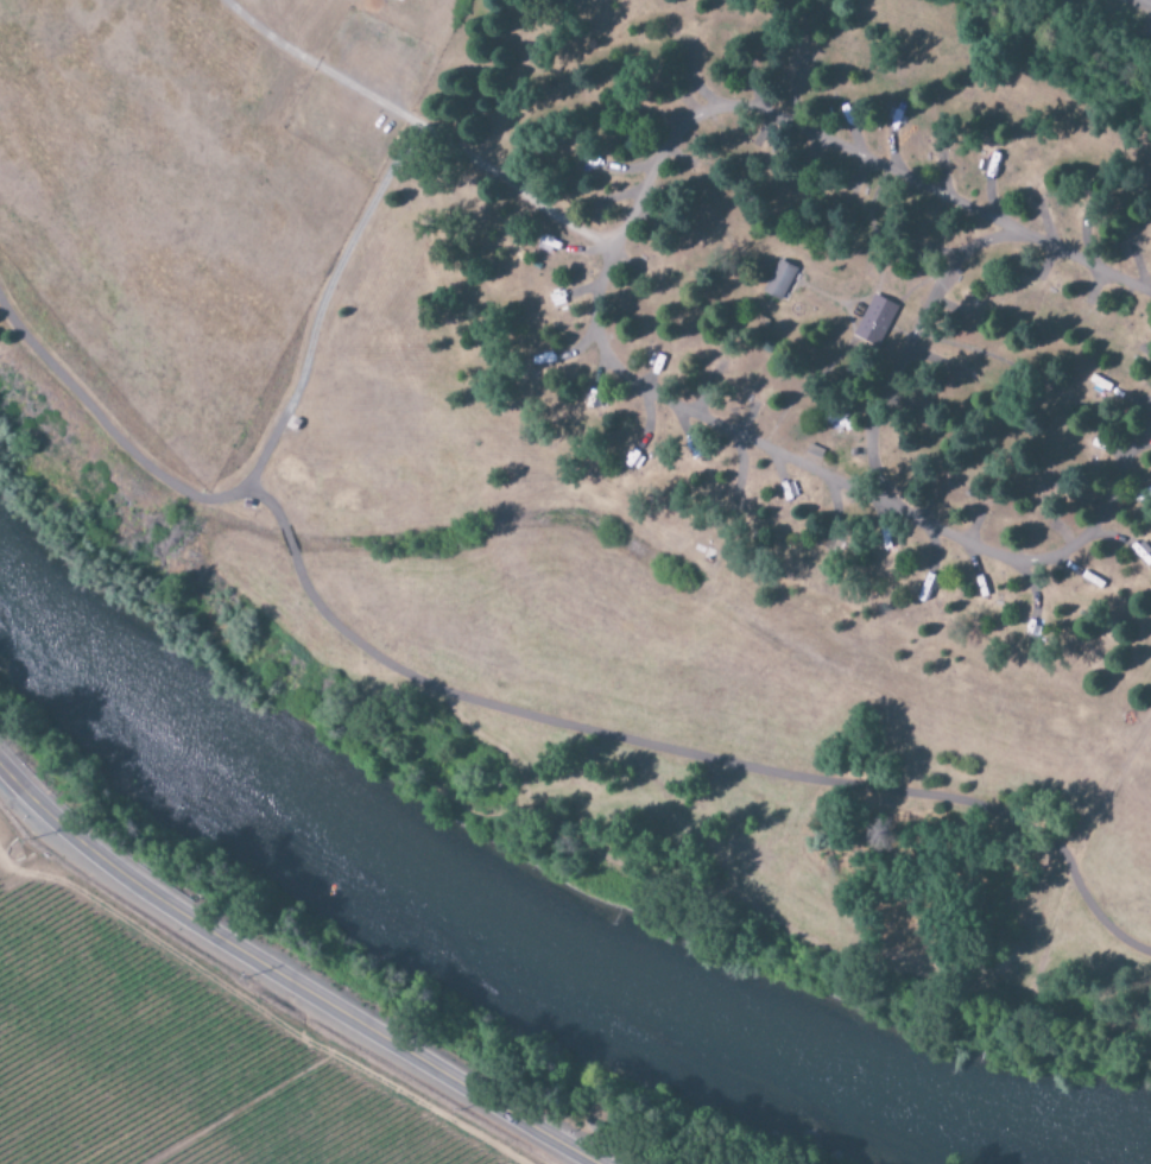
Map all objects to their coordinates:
road: (602, 279)
building: (778, 281)
building: (874, 323)
road: (907, 353)
road: (521, 713)
road: (26, 802)
road: (609, 861)
road: (1080, 861)
river: (532, 945)
road: (312, 999)

